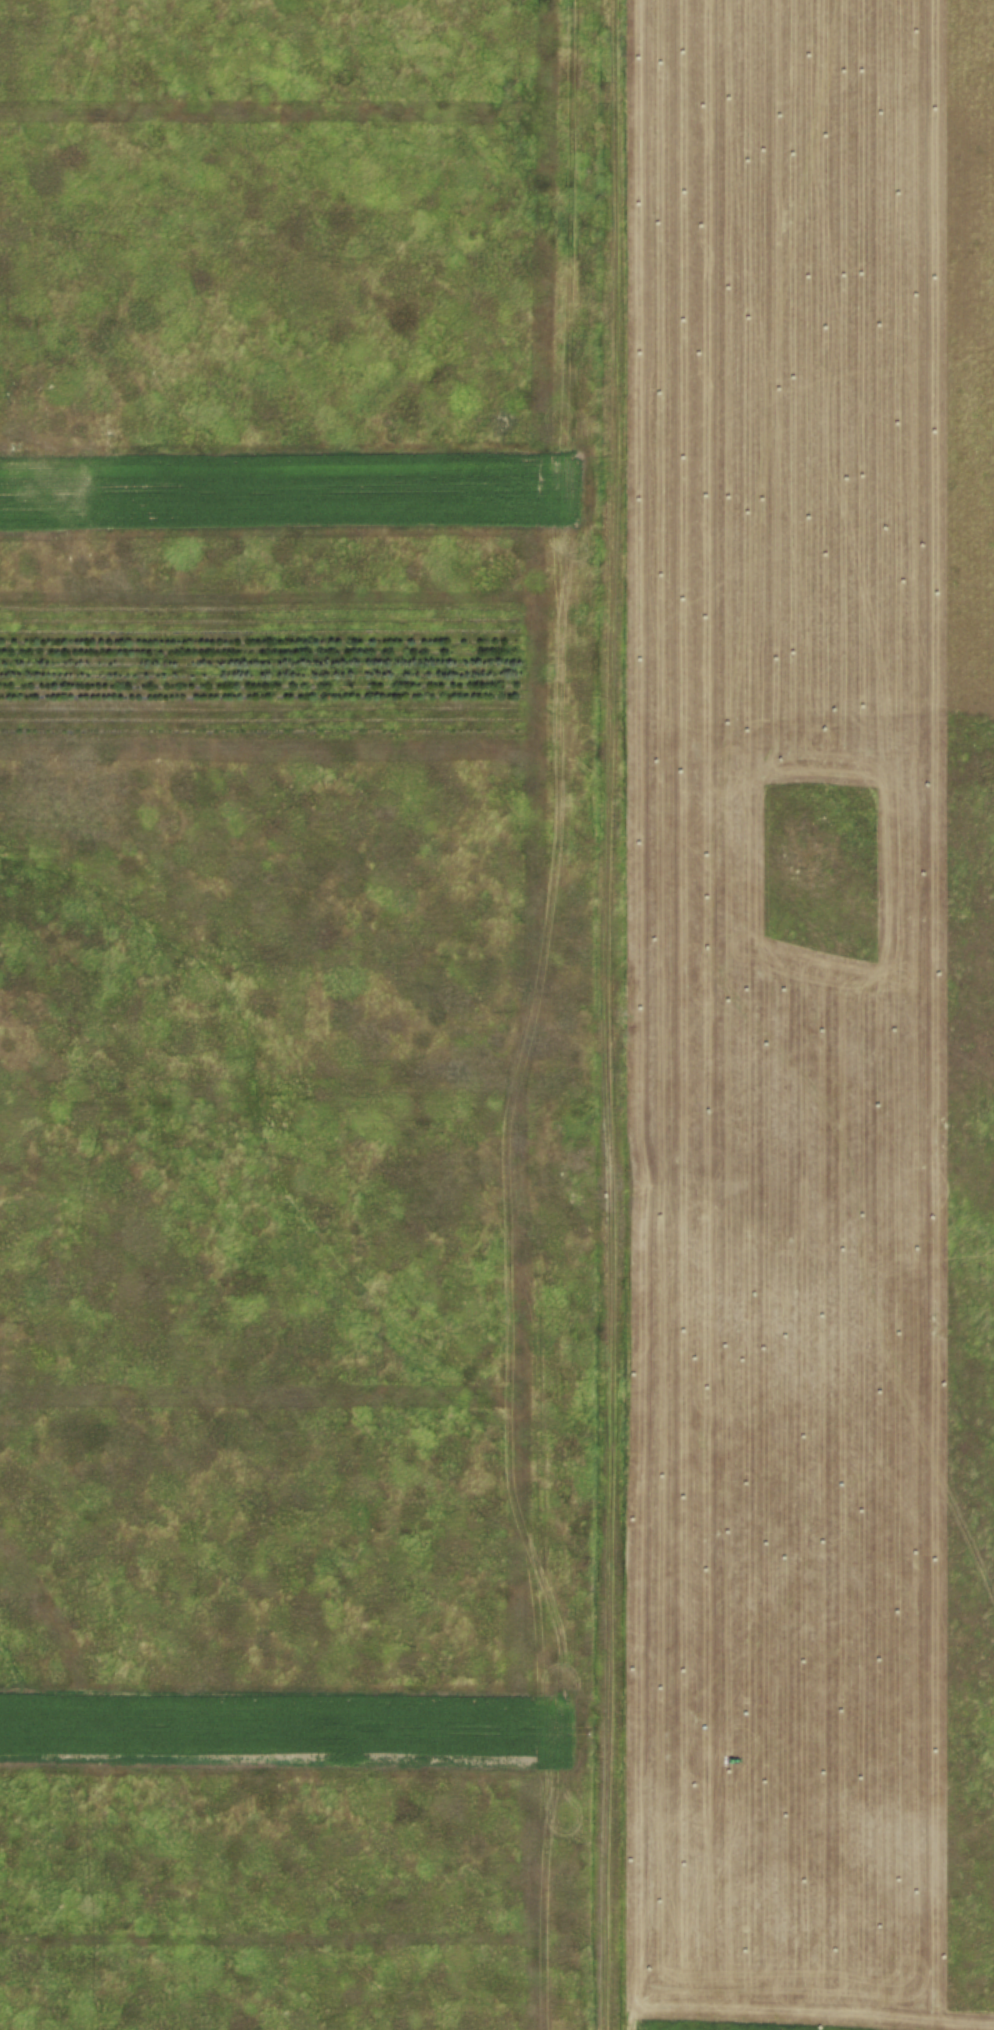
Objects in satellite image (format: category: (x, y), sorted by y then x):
road: (622, 1015)

